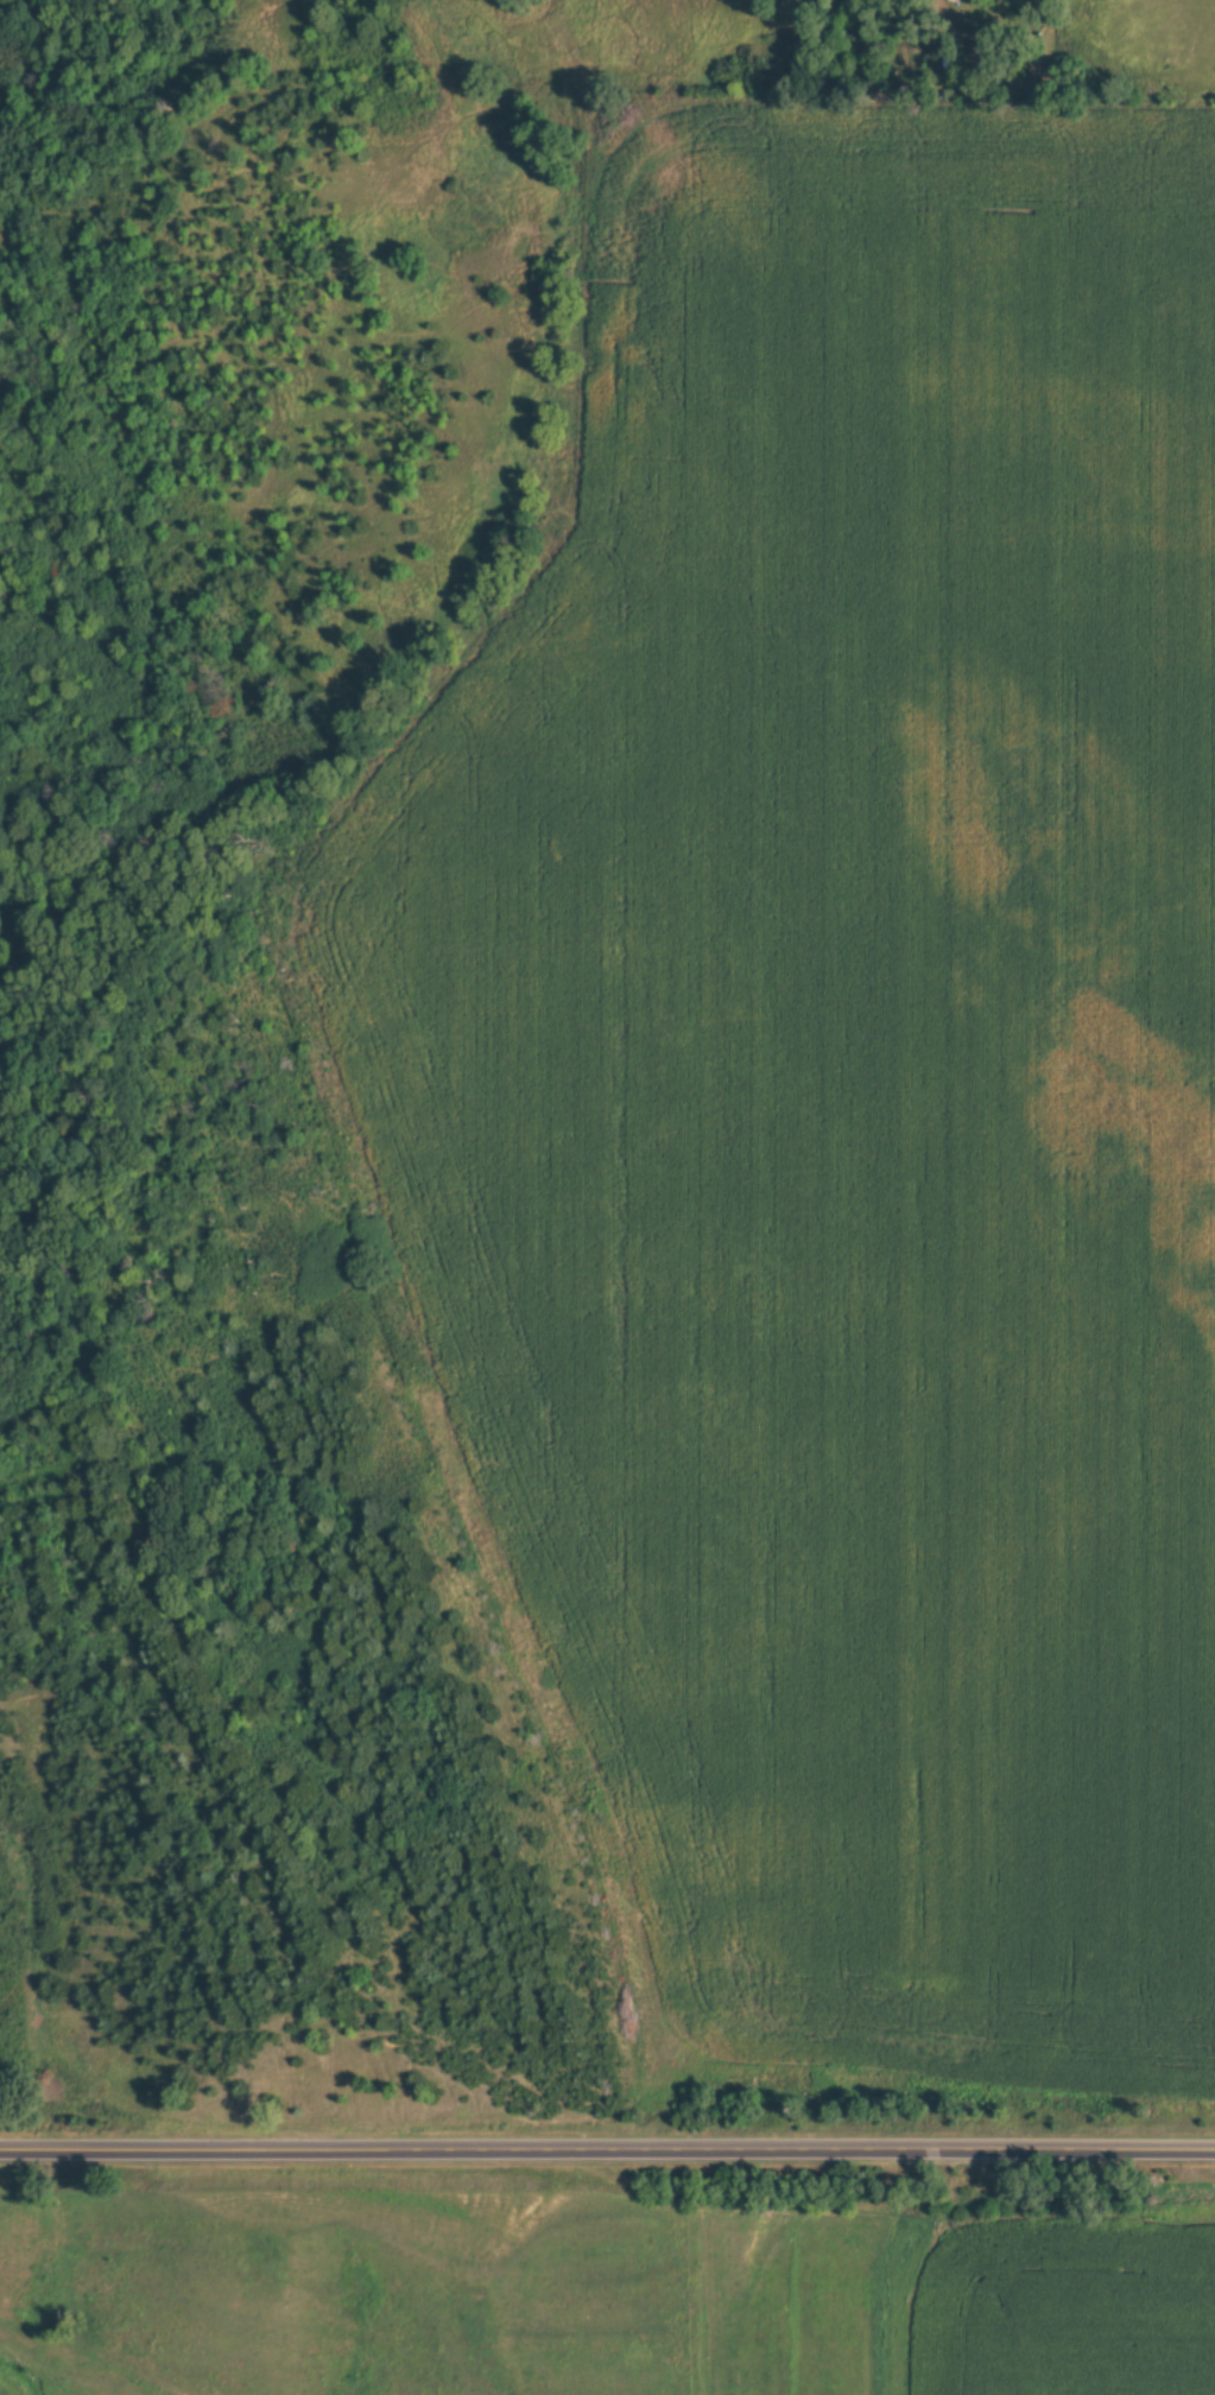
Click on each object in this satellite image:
crop: (847, 1073)
road: (607, 2144)
crop: (1071, 2308)

